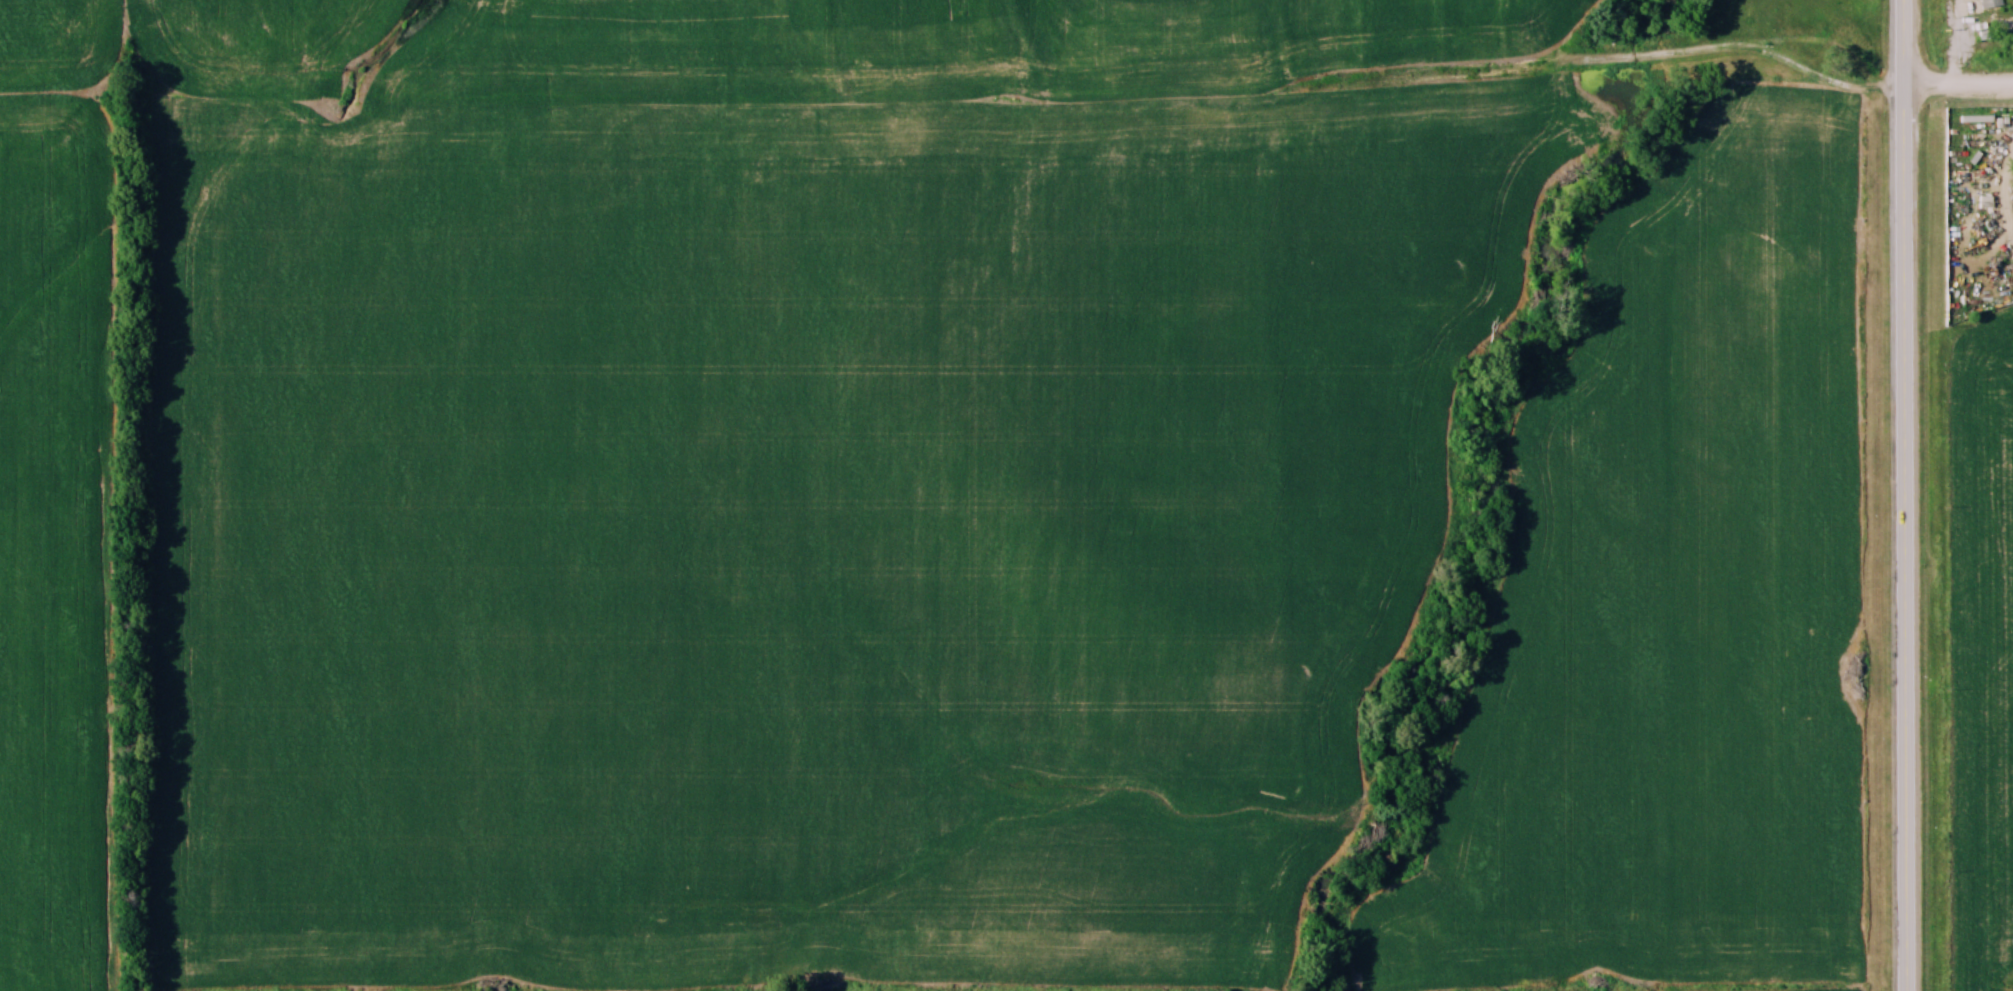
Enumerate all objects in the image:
building: (1990, 4)
road: (1961, 32)
road: (1959, 85)
road: (1906, 495)

